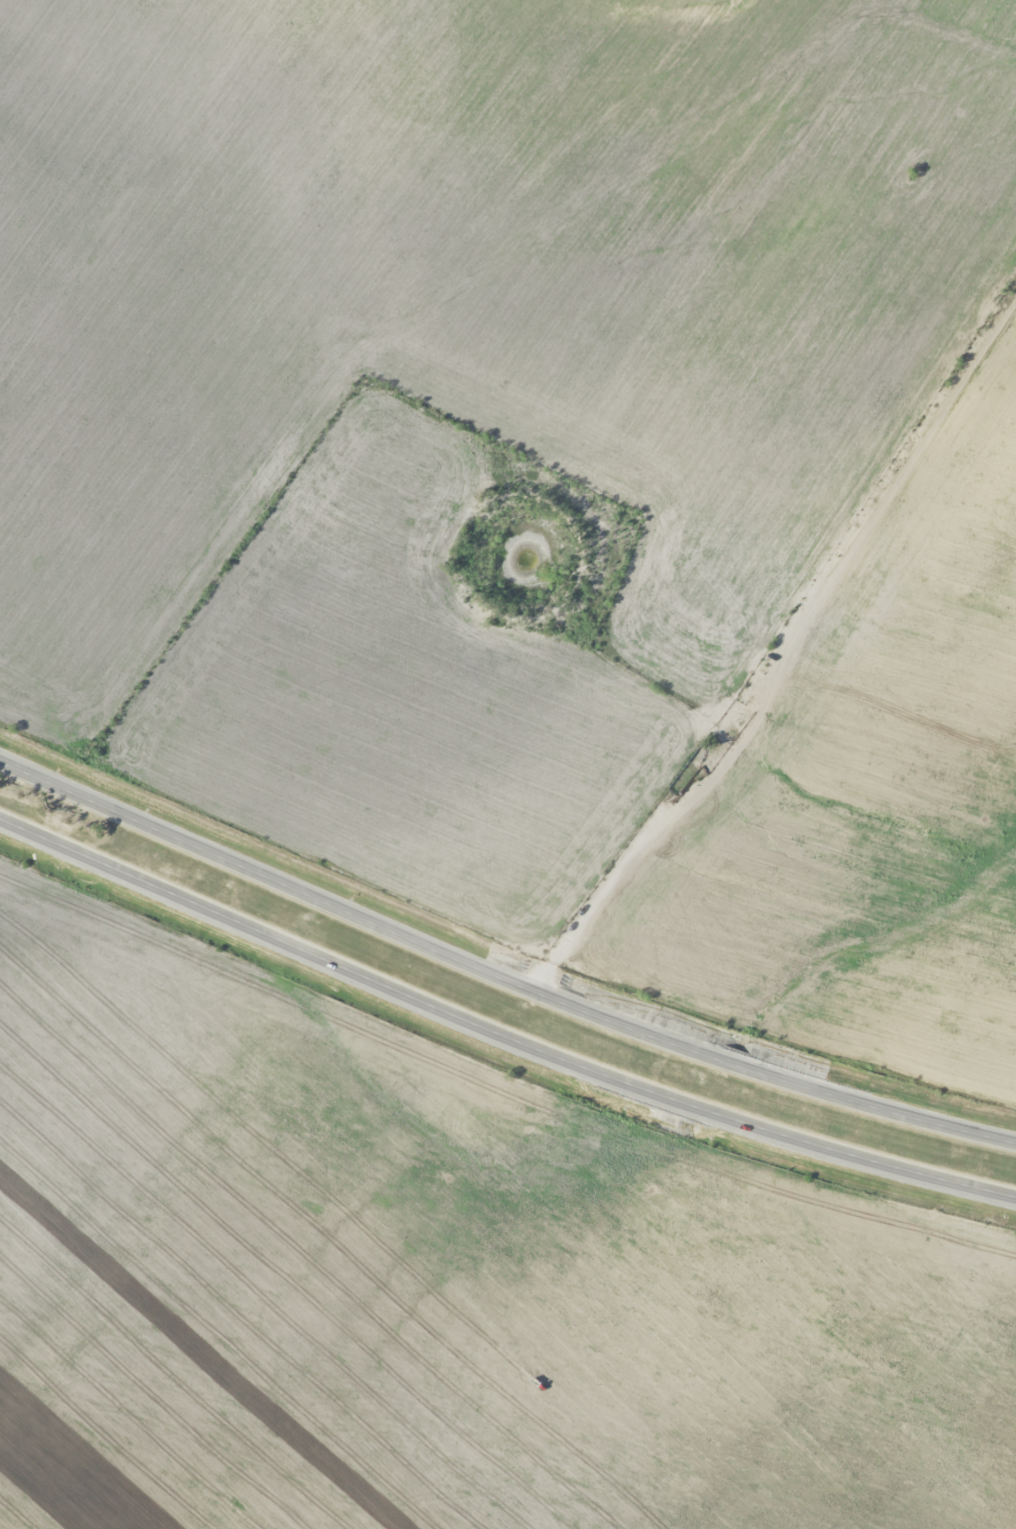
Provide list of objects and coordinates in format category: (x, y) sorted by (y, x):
road: (783, 654)
road: (500, 974)
road: (499, 1030)

